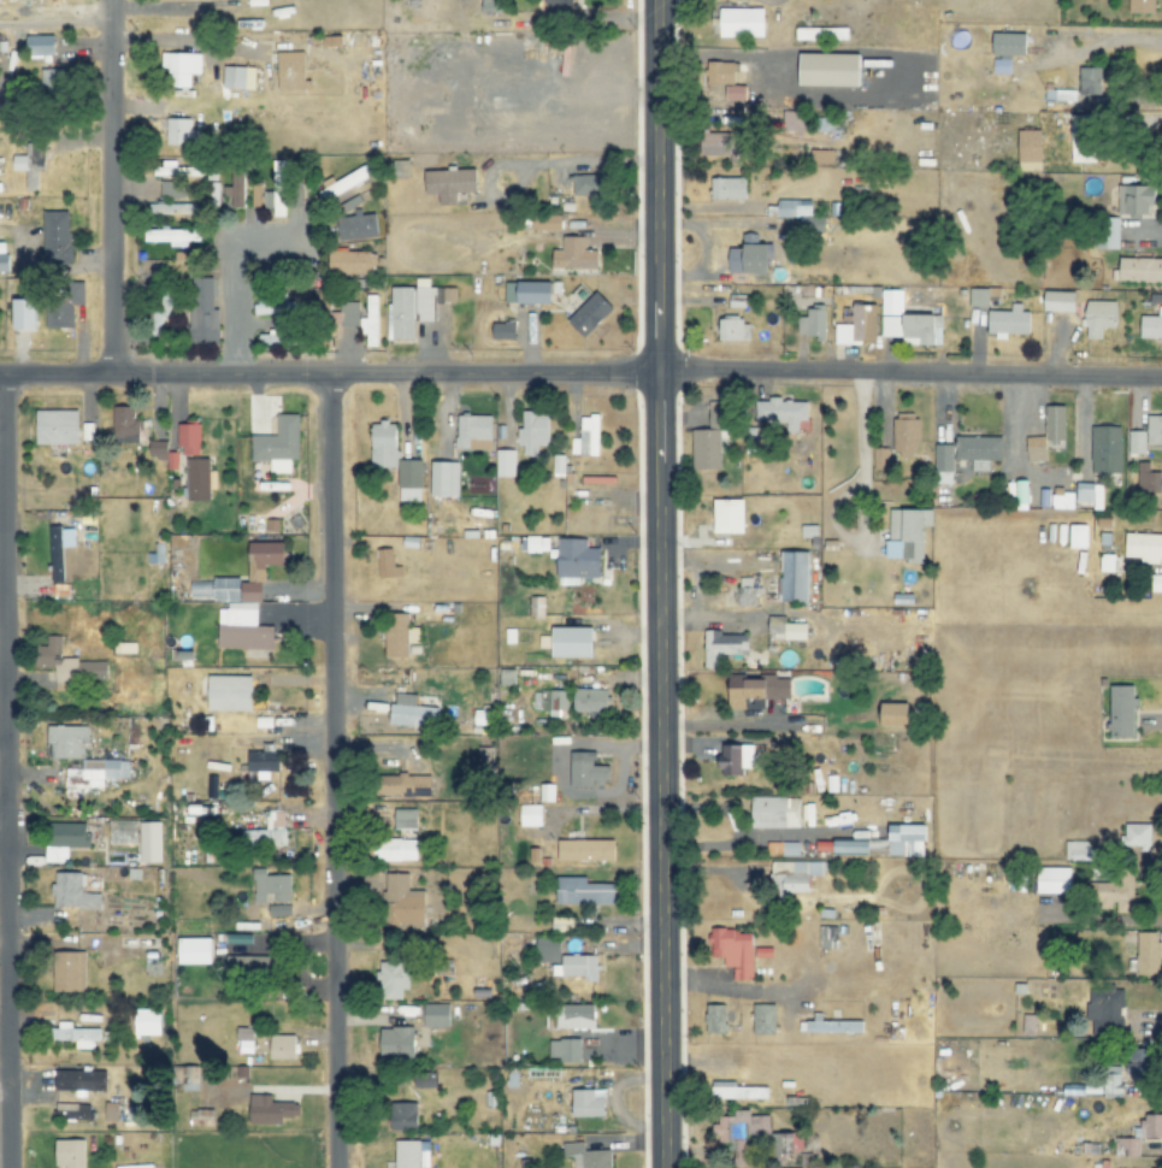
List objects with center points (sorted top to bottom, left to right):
building: (1140, 6)
building: (742, 22)
building: (821, 33)
building: (1008, 43)
building: (40, 46)
building: (1002, 64)
building: (181, 69)
building: (830, 69)
building: (291, 71)
building: (721, 72)
building: (238, 77)
building: (52, 82)
building: (1092, 83)
building: (736, 93)
building: (792, 120)
building: (181, 131)
building: (1083, 137)
building: (1030, 144)
building: (724, 146)
building: (821, 157)
building: (30, 164)
building: (175, 170)
building: (344, 183)
building: (449, 183)
building: (235, 185)
building: (590, 185)
road: (112, 187)
building: (729, 188)
building: (277, 189)
building: (171, 191)
building: (1136, 199)
building: (172, 208)
building: (794, 208)
building: (545, 222)
building: (358, 226)
building: (1108, 232)
building: (172, 236)
building: (57, 237)
building: (574, 254)
building: (2, 256)
building: (750, 256)
building: (353, 261)
building: (1140, 270)
building: (527, 291)
building: (978, 297)
building: (1058, 301)
building: (65, 302)
building: (273, 305)
building: (413, 308)
building: (202, 312)
building: (24, 313)
building: (589, 313)
building: (346, 314)
building: (1099, 317)
building: (1008, 322)
building: (812, 323)
building: (857, 325)
building: (1151, 325)
building: (502, 330)
building: (733, 330)
building: (282, 340)
road: (580, 376)
building: (784, 412)
building: (718, 414)
building: (122, 424)
building: (1055, 425)
building: (57, 426)
building: (472, 429)
building: (532, 431)
building: (1145, 435)
building: (585, 437)
building: (904, 437)
building: (277, 444)
building: (384, 444)
building: (178, 446)
building: (978, 448)
building: (1034, 448)
building: (706, 449)
building: (1105, 449)
building: (880, 458)
building: (505, 462)
building: (943, 464)
building: (1146, 478)
building: (200, 479)
building: (409, 479)
building: (441, 479)
building: (1089, 494)
building: (1062, 501)
building: (729, 515)
building: (908, 533)
building: (1077, 536)
building: (535, 543)
building: (1144, 547)
building: (59, 550)
building: (576, 560)
building: (387, 564)
building: (794, 577)
road: (661, 583)
building: (1156, 583)
building: (745, 591)
building: (242, 627)
building: (785, 629)
building: (399, 635)
building: (572, 642)
building: (722, 645)
building: (55, 661)
building: (92, 669)
building: (756, 691)
building: (229, 694)
building: (550, 701)
building: (591, 701)
building: (411, 712)
building: (1121, 712)
building: (895, 714)
building: (83, 756)
building: (736, 759)
building: (263, 761)
building: (586, 771)
road: (4, 772)
road: (335, 773)
building: (405, 785)
building: (774, 812)
building: (530, 815)
building: (406, 820)
road: (2, 825)
building: (122, 832)
building: (267, 832)
building: (1136, 837)
building: (64, 839)
building: (149, 842)
building: (886, 843)
building: (394, 849)
building: (585, 850)
building: (1079, 851)
building: (794, 875)
building: (1054, 880)
building: (270, 886)
building: (582, 891)
building: (1115, 891)
building: (72, 892)
building: (402, 904)
building: (547, 949)
building: (195, 951)
building: (733, 951)
building: (1148, 954)
building: (253, 966)
building: (577, 967)
building: (69, 972)
building: (394, 980)
building: (1104, 1011)
building: (436, 1015)
building: (571, 1017)
building: (715, 1019)
building: (763, 1019)
building: (147, 1022)
building: (828, 1026)
building: (75, 1036)
building: (244, 1040)
building: (396, 1043)
building: (282, 1048)
building: (565, 1050)
building: (1139, 1064)
building: (1111, 1085)
building: (738, 1091)
building: (588, 1103)
building: (270, 1110)
building: (73, 1111)
building: (403, 1116)
building: (201, 1117)
building: (1151, 1126)
building: (742, 1135)
building: (1126, 1146)
building: (70, 1154)
building: (411, 1155)
building: (586, 1156)
building: (135, 1166)

